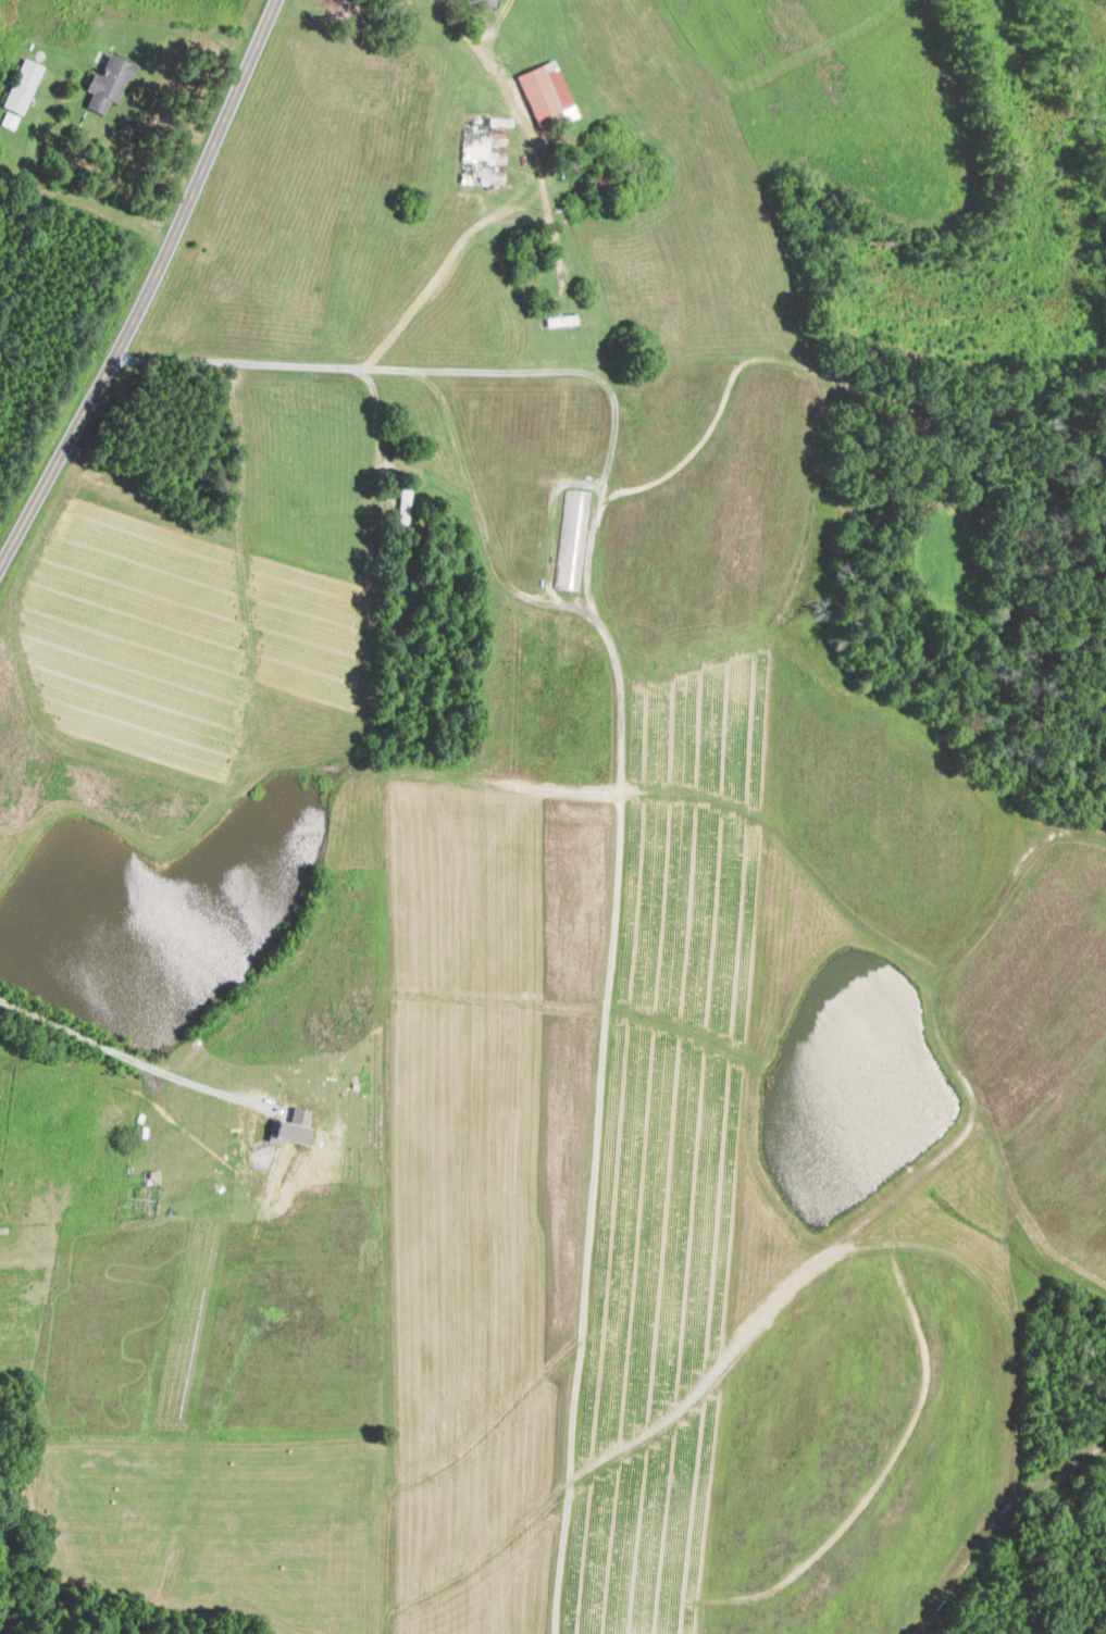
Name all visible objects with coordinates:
building: (484, 2)
road: (498, 27)
building: (104, 84)
building: (542, 89)
building: (17, 92)
road: (430, 284)
road: (149, 287)
road: (602, 377)
building: (402, 502)
road: (132, 1056)
road: (598, 1118)
building: (289, 1126)

